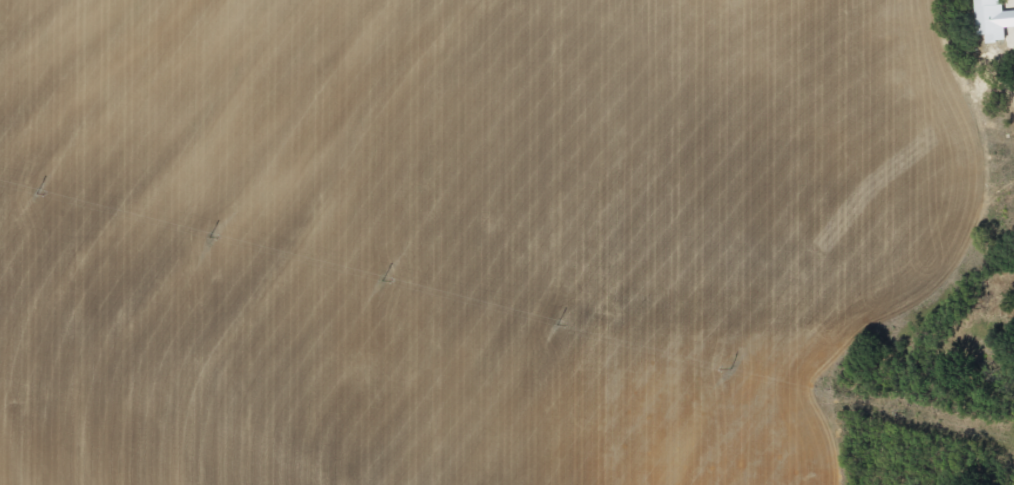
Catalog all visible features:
building: (995, 20)

